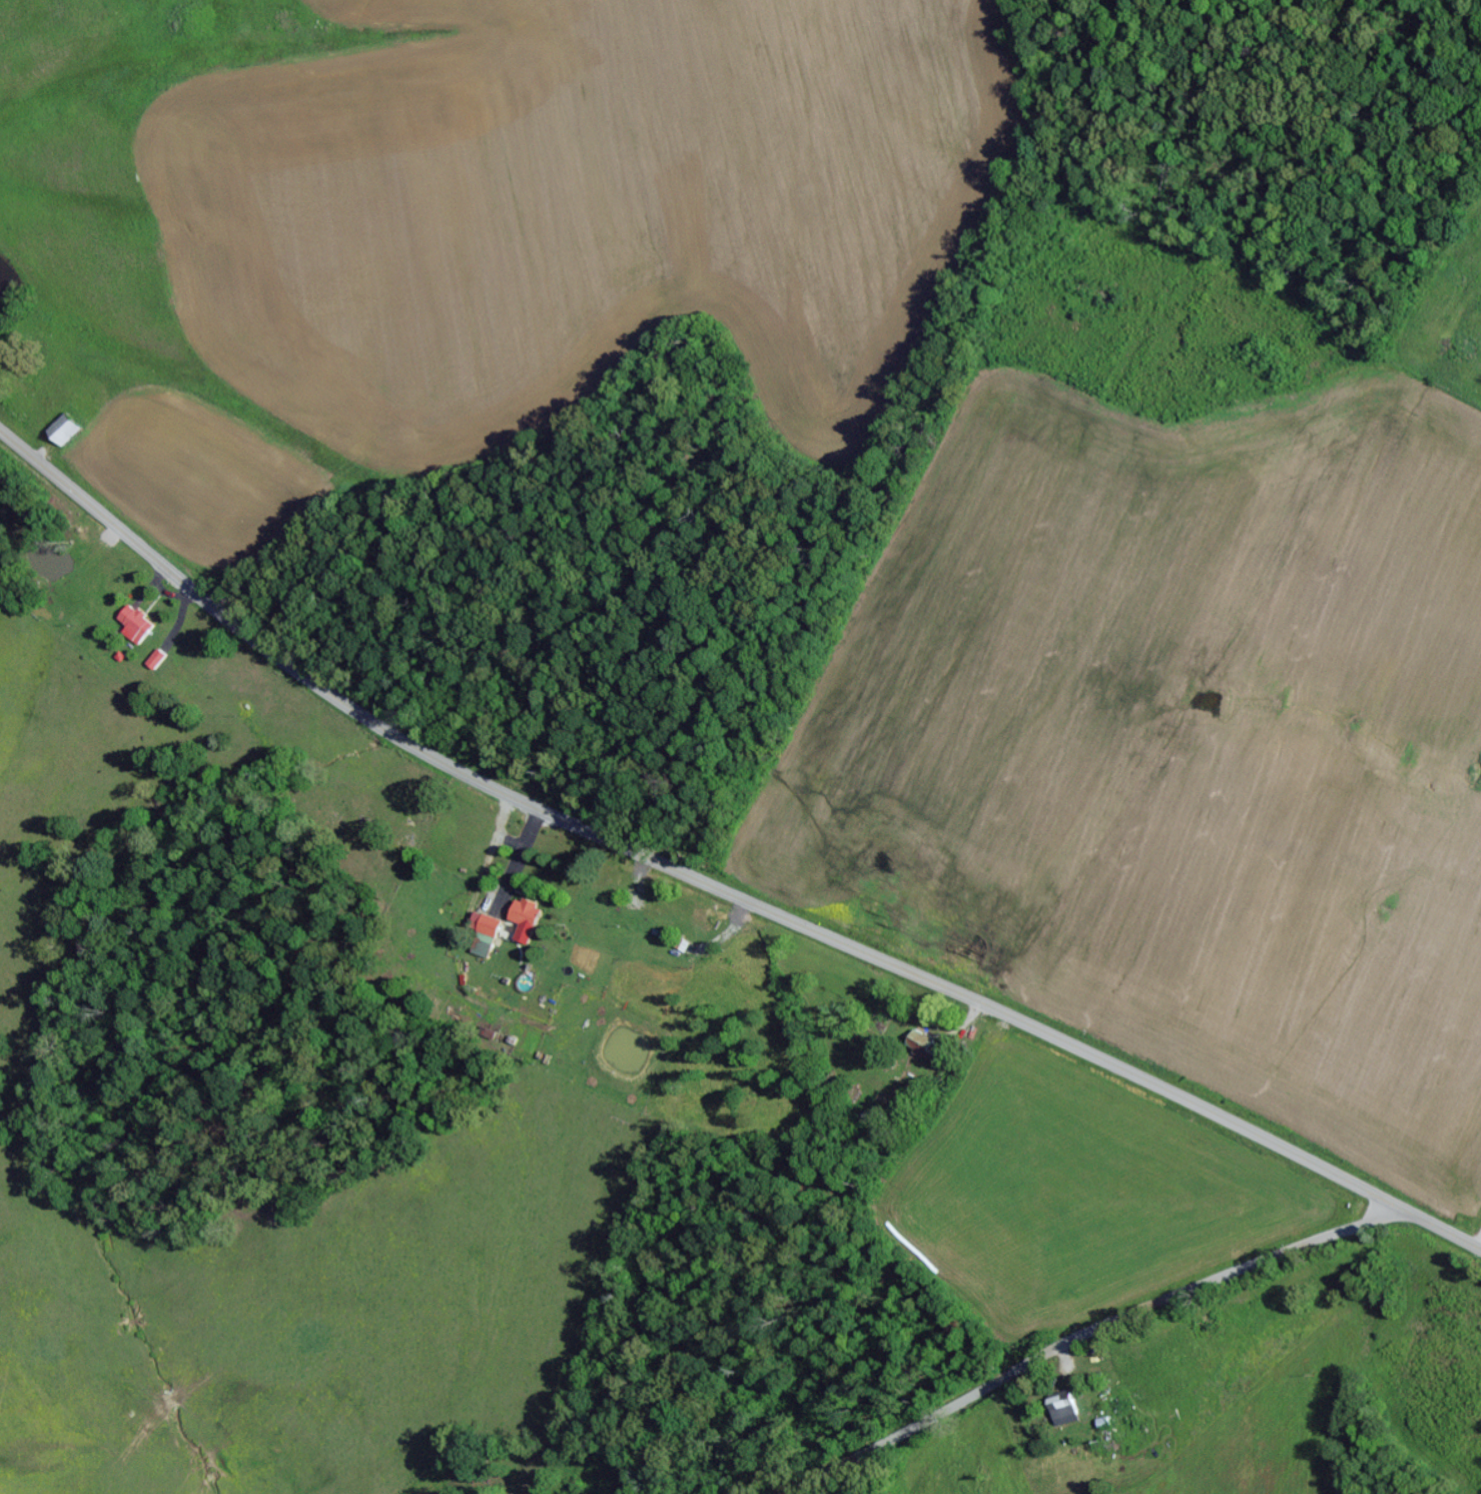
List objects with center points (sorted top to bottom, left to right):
building: (70, 429)
building: (134, 624)
building: (156, 660)
road: (711, 887)
building: (521, 919)
building: (481, 933)
building: (920, 1043)
road: (1086, 1336)
building: (1063, 1410)

